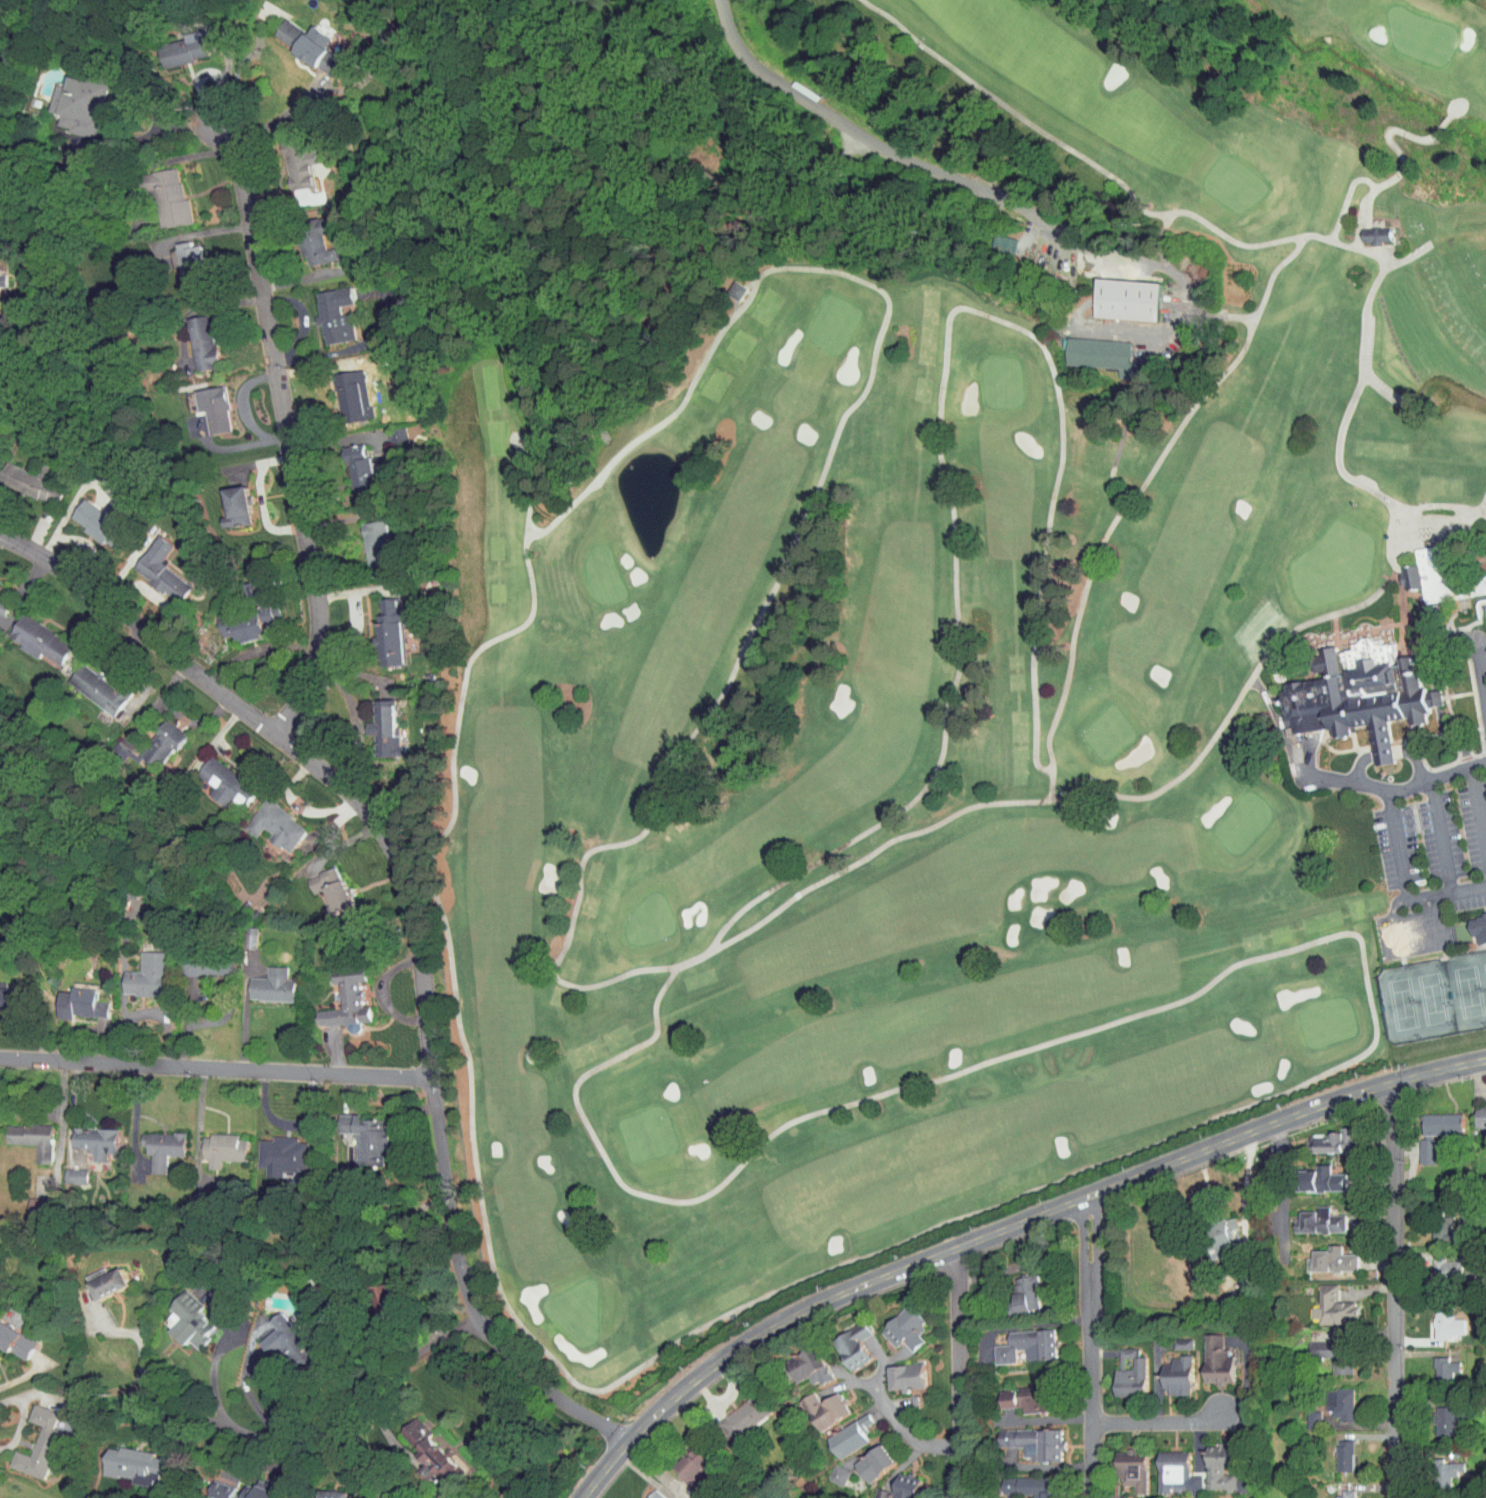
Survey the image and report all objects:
building: (276, 26)
building: (171, 44)
building: (305, 44)
building: (71, 98)
road: (114, 108)
road: (275, 118)
road: (158, 122)
road: (130, 139)
road: (890, 152)
building: (287, 158)
road: (1377, 173)
road: (1119, 189)
building: (157, 193)
road: (1351, 211)
building: (1364, 229)
building: (304, 236)
building: (991, 237)
building: (180, 262)
building: (725, 284)
building: (1115, 293)
building: (323, 309)
road: (1350, 329)
building: (191, 337)
building: (1085, 347)
road: (1134, 371)
building: (337, 390)
building: (203, 403)
road: (927, 417)
building: (385, 430)
road: (287, 436)
building: (348, 467)
road: (1348, 477)
building: (25, 478)
road: (1473, 492)
road: (1117, 493)
building: (224, 502)
building: (89, 515)
building: (365, 542)
building: (150, 565)
building: (1428, 571)
building: (239, 610)
building: (379, 625)
building: (28, 635)
road: (260, 650)
road: (1477, 664)
building: (87, 684)
building: (1364, 700)
park: (923, 703)
building: (149, 738)
road: (1388, 753)
building: (214, 778)
road: (1378, 789)
building: (265, 820)
parking lot: (1434, 848)
road: (566, 869)
road: (1403, 885)
building: (321, 887)
building: (1473, 922)
road: (420, 924)
building: (239, 932)
building: (193, 960)
building: (135, 970)
building: (260, 983)
building: (335, 993)
park: (1435, 997)
building: (69, 998)
road: (218, 1065)
building: (1475, 1111)
building: (1432, 1119)
building: (22, 1132)
building: (354, 1133)
building: (84, 1137)
building: (1327, 1137)
building: (151, 1143)
building: (211, 1144)
building: (1417, 1146)
building: (270, 1150)
building: (64, 1171)
road: (1283, 1173)
building: (1312, 1174)
road: (1036, 1177)
road: (1242, 1188)
building: (1313, 1213)
building: (1433, 1224)
road: (1004, 1229)
building: (1211, 1229)
building: (1330, 1253)
building: (1436, 1261)
building: (97, 1276)
building: (367, 1288)
road: (1398, 1288)
building: (1322, 1300)
building: (177, 1314)
building: (1436, 1318)
building: (894, 1322)
building: (276, 1335)
building: (10, 1337)
building: (1172, 1337)
building: (842, 1338)
building: (1016, 1339)
road: (1092, 1347)
building: (1322, 1347)
building: (1206, 1354)
road: (141, 1356)
building: (798, 1359)
building: (1434, 1361)
building: (1119, 1367)
building: (1167, 1369)
building: (895, 1370)
road: (962, 1371)
road: (211, 1381)
building: (1018, 1393)
building: (1330, 1397)
road: (248, 1398)
building: (814, 1403)
road: (343, 1406)
building: (732, 1411)
building: (1436, 1414)
road: (20, 1415)
road: (1165, 1423)
road: (905, 1429)
building: (840, 1430)
building: (1023, 1436)
road: (390, 1443)
road: (358, 1447)
building: (1334, 1449)
building: (421, 1454)
building: (864, 1456)
building: (123, 1459)
building: (683, 1461)
building: (1210, 1461)
building: (1121, 1462)
building: (1163, 1464)
building: (1437, 1465)
building: (827, 1469)
building: (1019, 1481)
building: (888, 1486)
building: (249, 1488)
building: (320, 1490)
building: (643, 1492)
building: (1334, 1492)
building: (1431, 1497)

